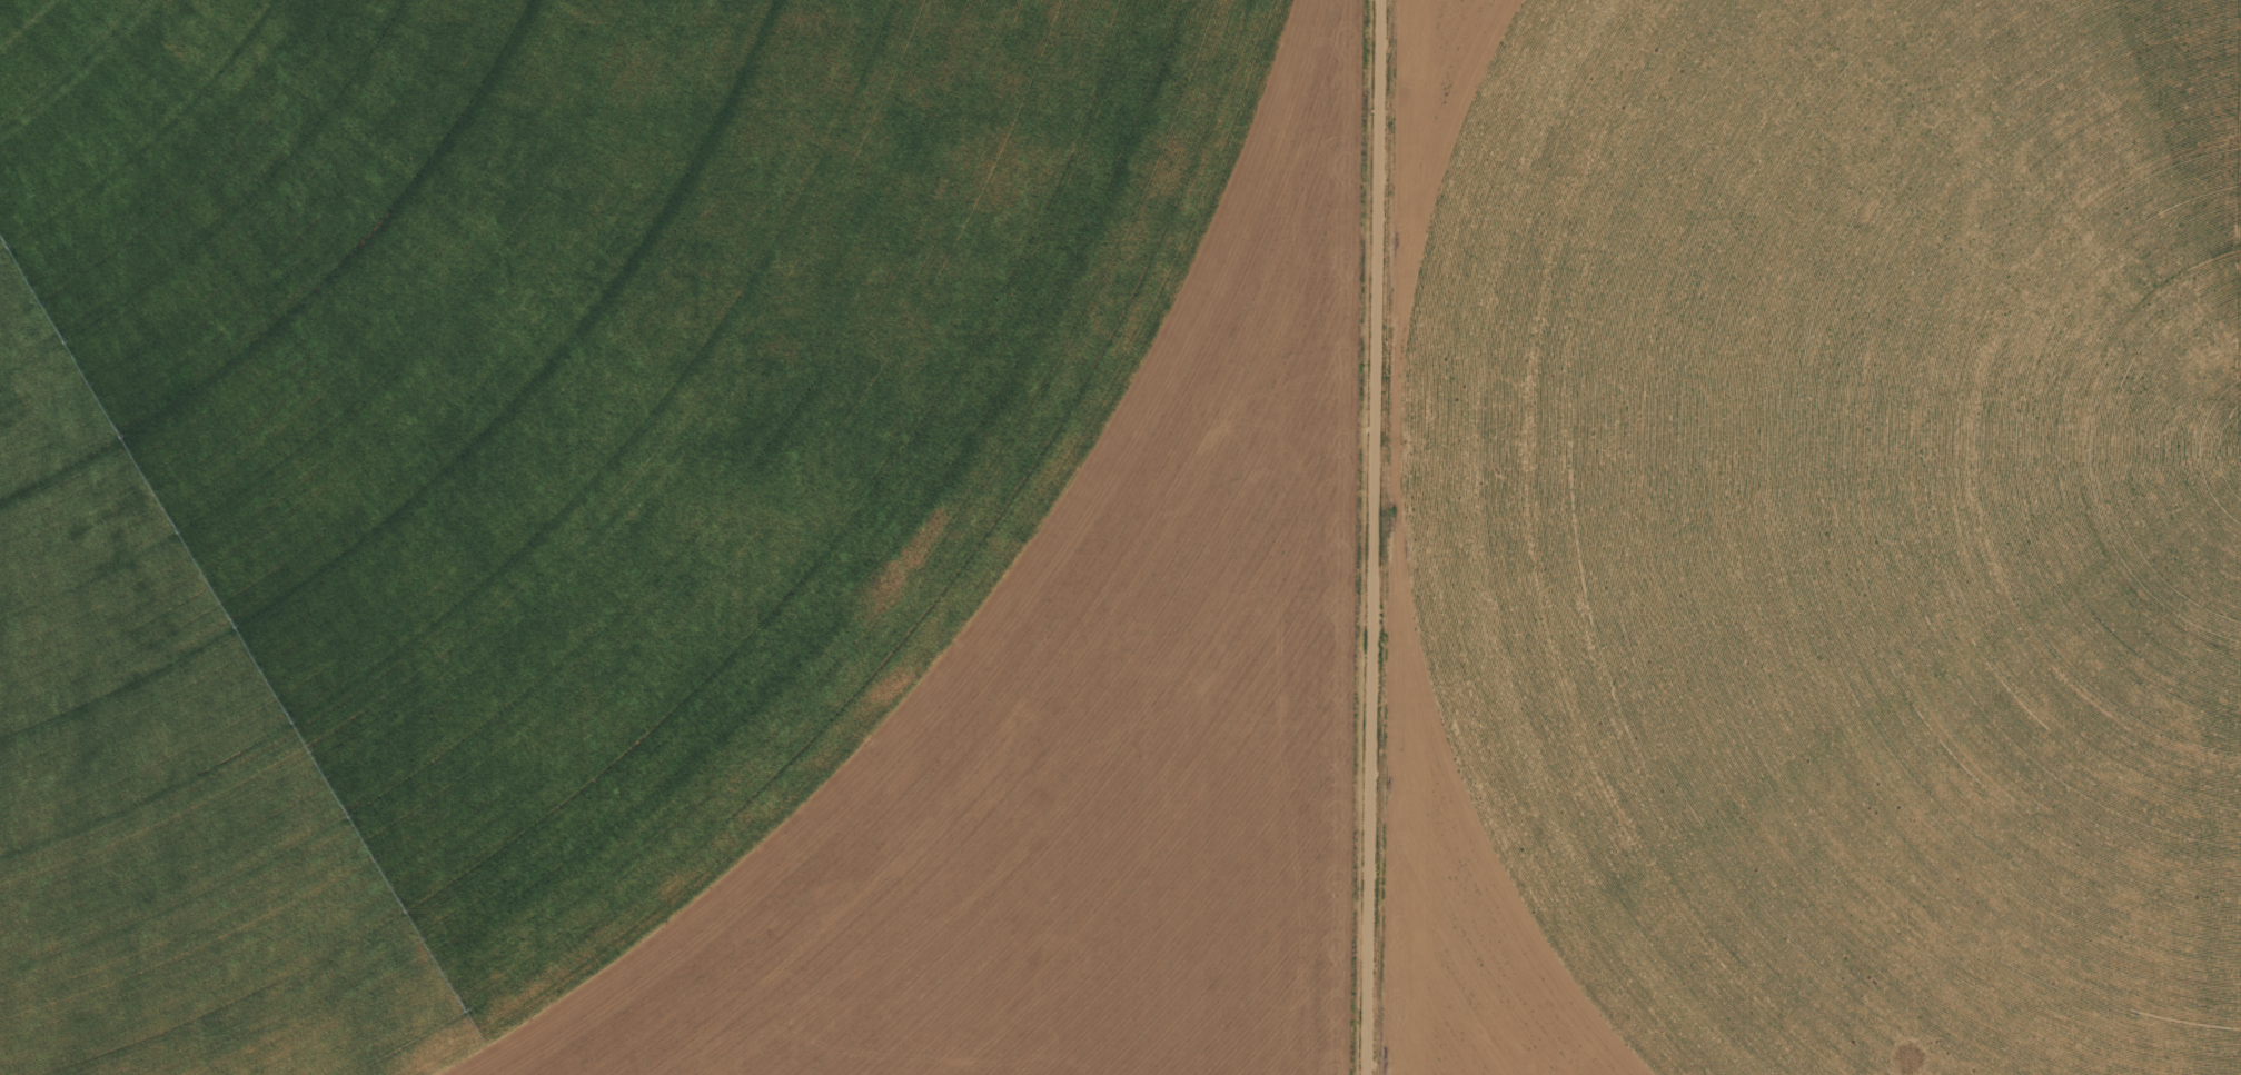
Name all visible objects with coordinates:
road: (1375, 537)

